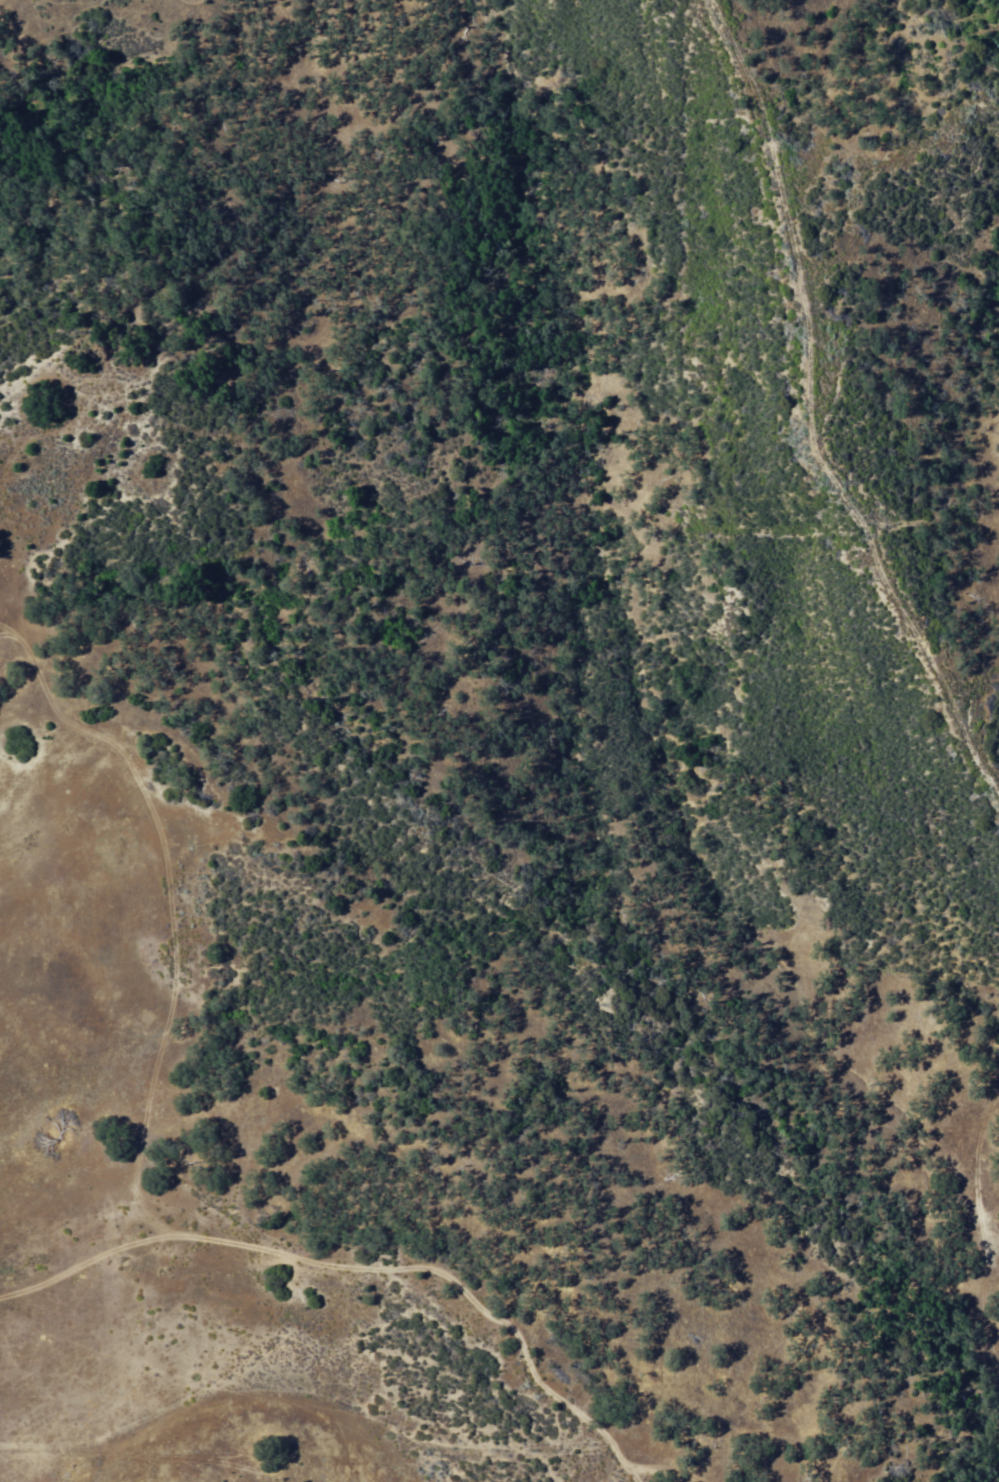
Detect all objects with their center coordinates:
road: (255, 1457)

